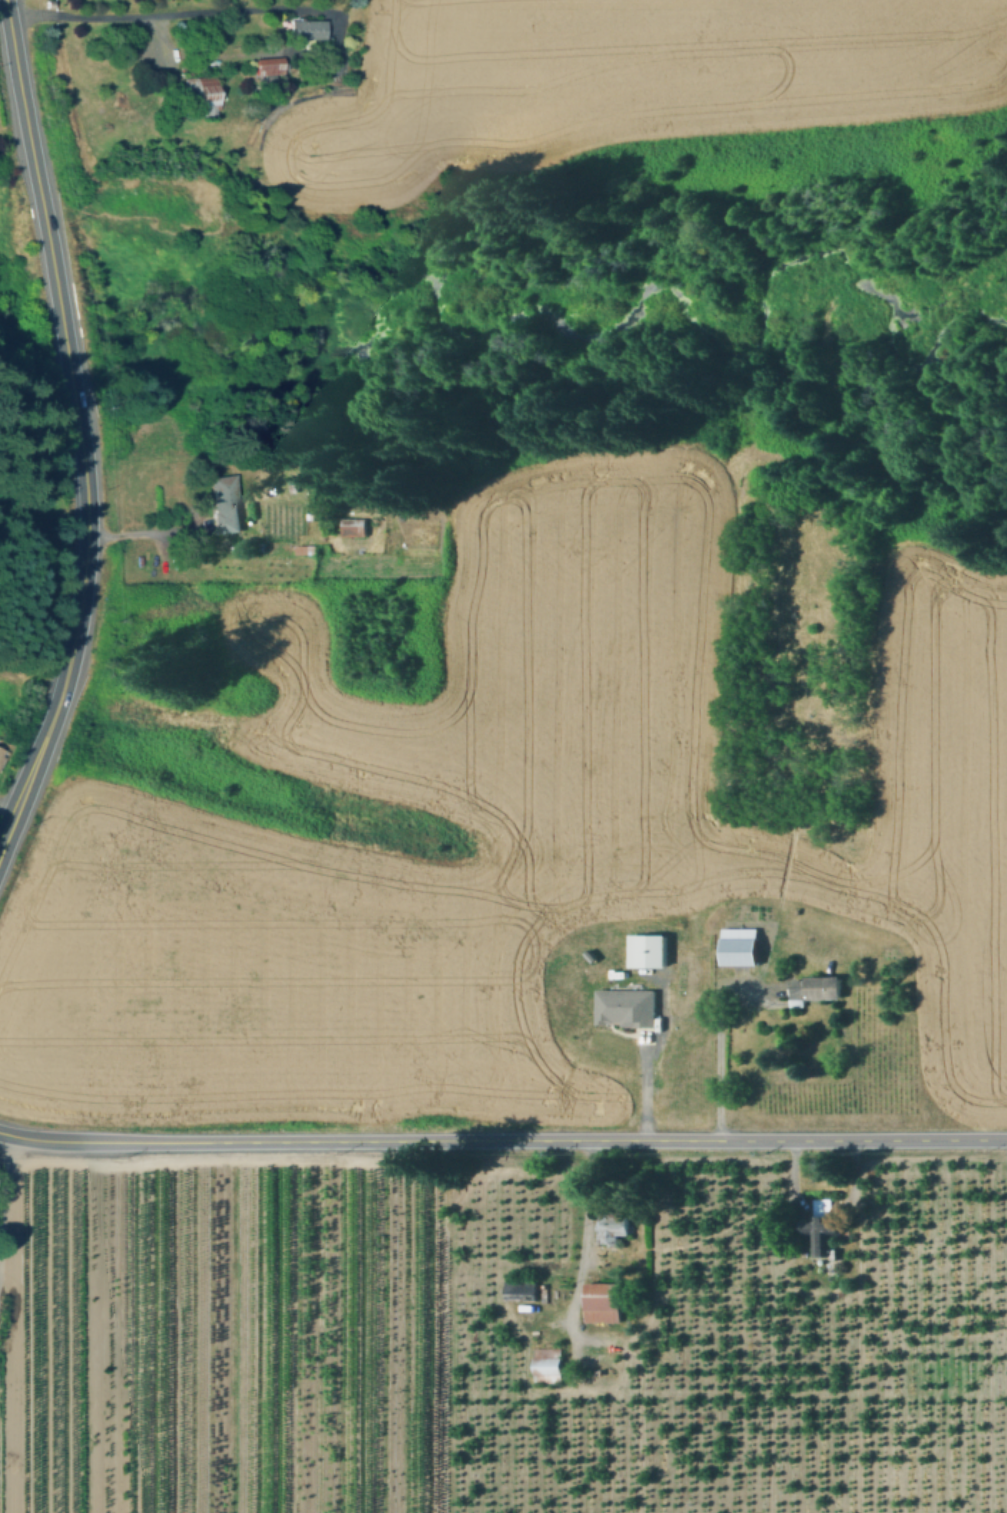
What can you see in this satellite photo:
road: (4, 7)
road: (189, 11)
building: (308, 30)
road: (160, 45)
building: (270, 66)
crop: (623, 84)
road: (22, 87)
building: (203, 94)
road: (54, 274)
building: (227, 504)
road: (88, 521)
building: (357, 527)
road: (142, 531)
building: (308, 549)
road: (54, 712)
building: (2, 755)
crop: (535, 792)
road: (19, 800)
crop: (934, 816)
building: (740, 945)
building: (647, 949)
building: (589, 955)
building: (816, 992)
road: (763, 994)
building: (625, 1006)
road: (690, 1017)
road: (719, 1024)
road: (649, 1054)
road: (503, 1139)
road: (3, 1184)
building: (613, 1225)
building: (827, 1227)
road: (583, 1241)
building: (520, 1289)
building: (602, 1301)
building: (547, 1364)

